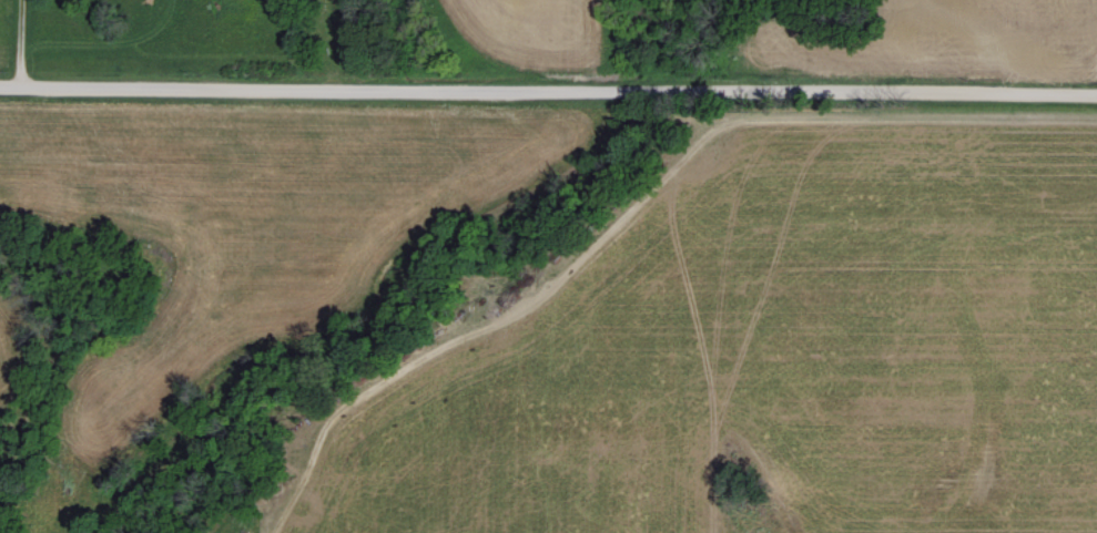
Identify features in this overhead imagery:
road: (17, 43)
road: (548, 90)

